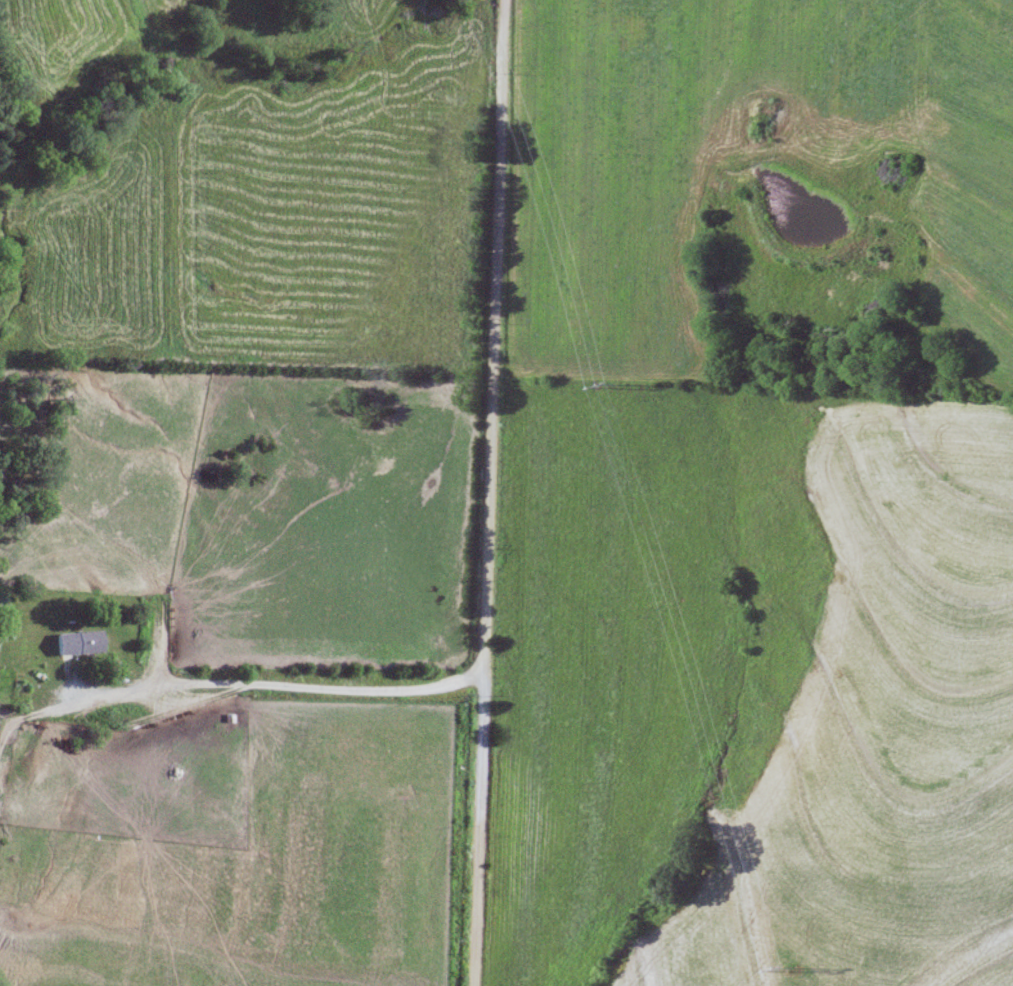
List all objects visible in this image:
road: (489, 493)
building: (80, 644)
road: (264, 681)
building: (169, 751)

